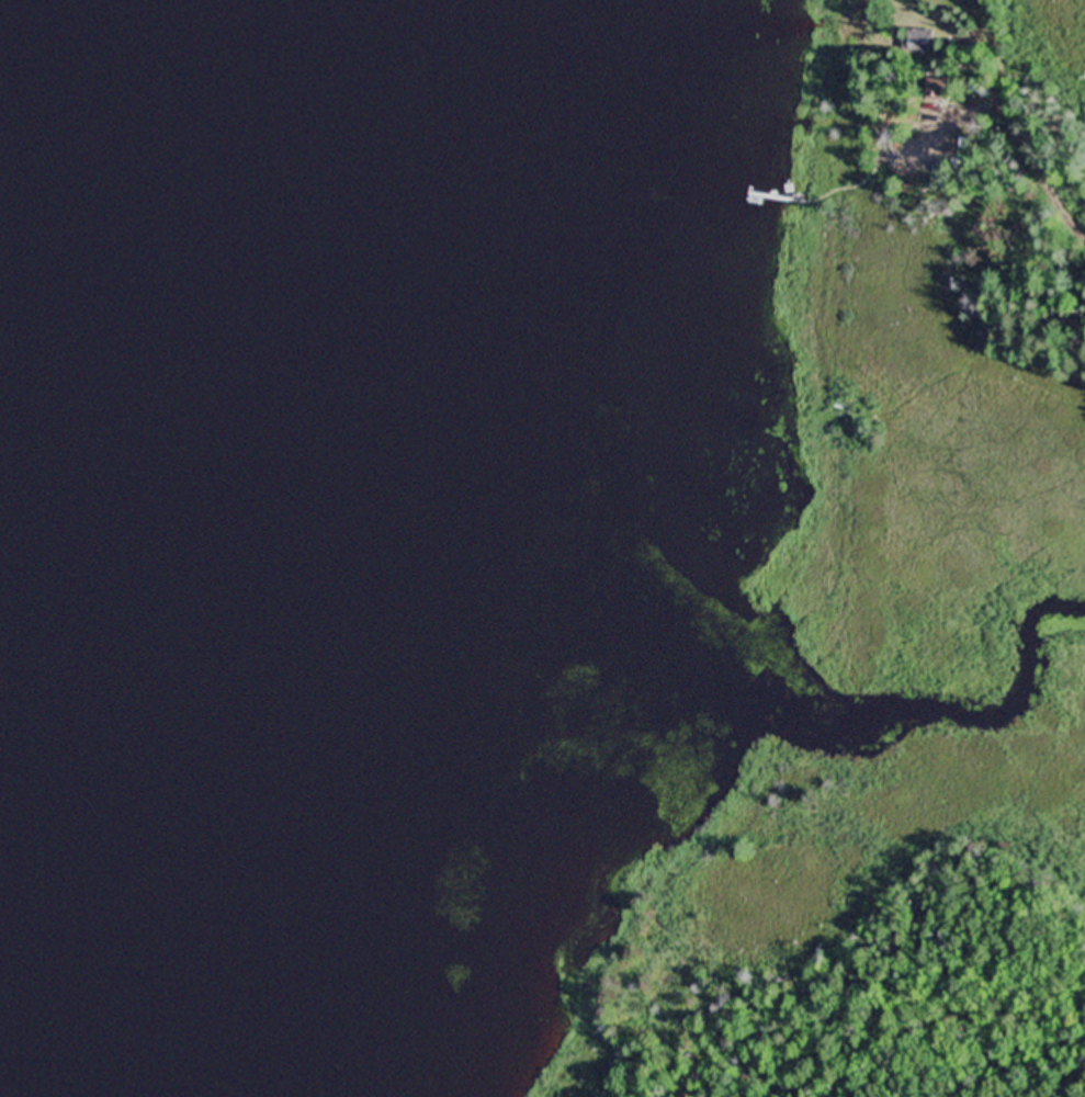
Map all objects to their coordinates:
building: (982, 1)
building: (916, 37)
road: (1033, 171)

